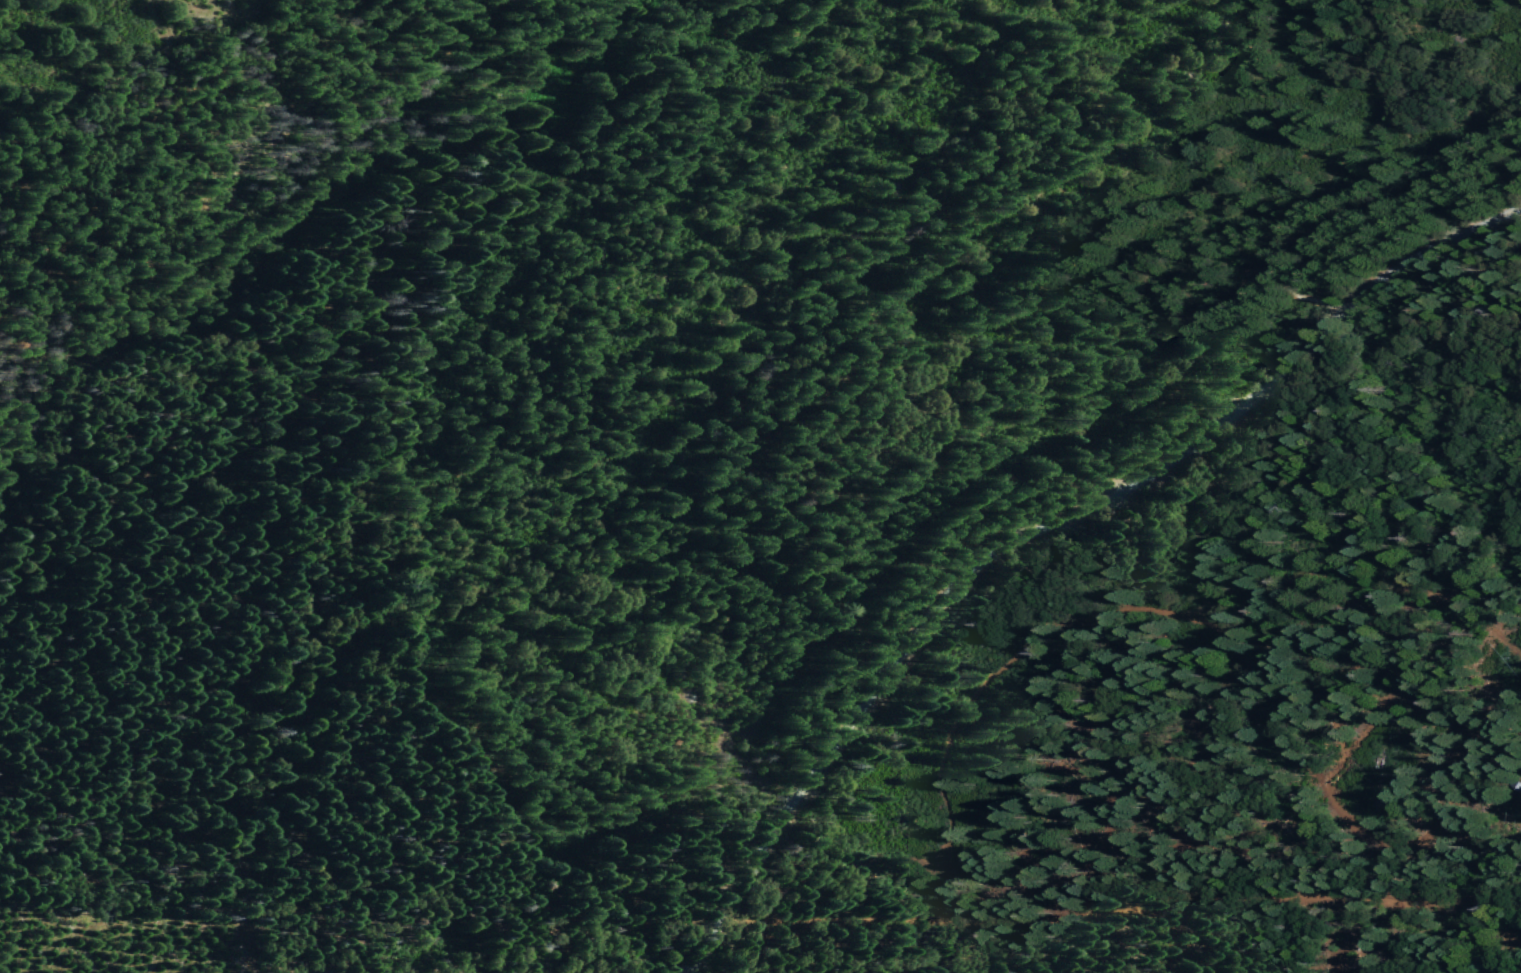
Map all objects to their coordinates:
road: (1043, 529)

